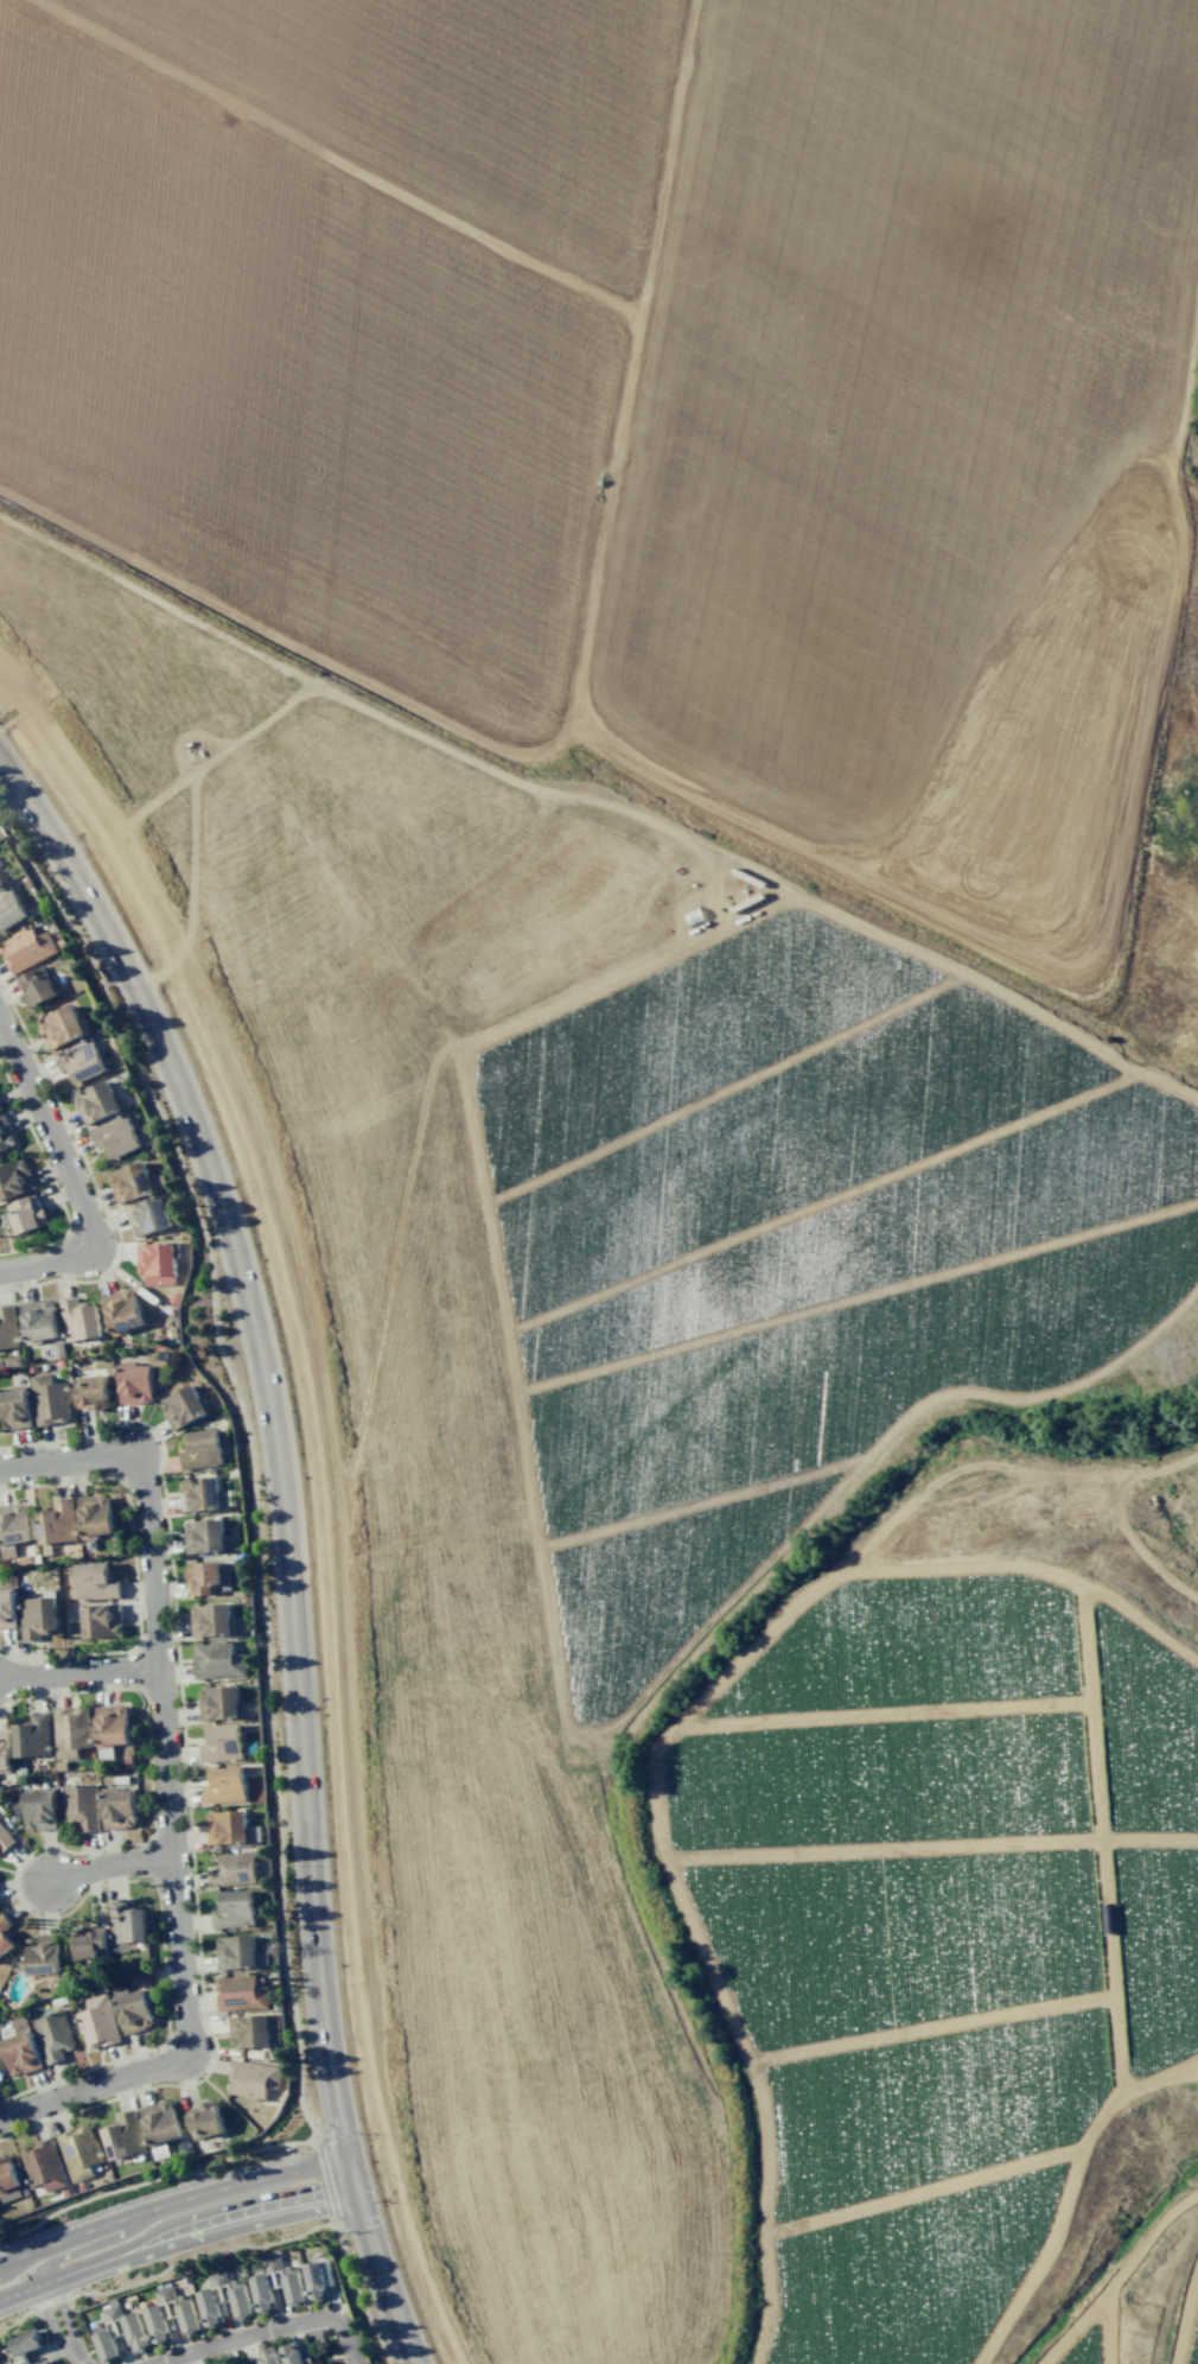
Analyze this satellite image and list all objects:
building: (1, 879)
building: (9, 908)
building: (59, 942)
building: (26, 948)
building: (36, 986)
building: (62, 1027)
building: (81, 1060)
crop: (719, 1097)
building: (96, 1101)
building: (0, 1107)
building: (5, 1133)
building: (115, 1135)
road: (69, 1174)
building: (14, 1178)
road: (51, 1180)
road: (90, 1180)
building: (130, 1182)
building: (26, 1214)
building: (148, 1215)
building: (157, 1262)
building: (174, 1298)
building: (121, 1311)
building: (78, 1320)
building: (38, 1321)
building: (7, 1327)
building: (172, 1333)
building: (58, 1349)
building: (12, 1361)
building: (134, 1383)
building: (91, 1392)
building: (49, 1399)
building: (183, 1406)
building: (14, 1409)
building: (202, 1448)
road: (77, 1456)
building: (198, 1494)
building: (94, 1517)
building: (57, 1521)
building: (12, 1529)
building: (204, 1536)
road: (286, 1539)
road: (133, 1565)
building: (208, 1576)
building: (95, 1581)
building: (6, 1607)
building: (37, 1616)
building: (100, 1619)
building: (211, 1619)
road: (263, 1620)
road: (4, 1651)
building: (218, 1660)
road: (79, 1671)
building: (218, 1702)
building: (111, 1729)
building: (72, 1733)
building: (33, 1735)
road: (146, 1735)
building: (222, 1742)
building: (5, 1752)
building: (21, 1772)
road: (185, 1780)
building: (225, 1784)
building: (81, 1806)
building: (117, 1806)
building: (38, 1809)
building: (225, 1826)
building: (5, 1838)
road: (173, 1862)
road: (109, 1863)
building: (234, 1869)
road: (15, 1896)
building: (234, 1908)
building: (127, 1921)
building: (5, 1934)
building: (89, 1940)
building: (236, 1951)
building: (43, 1955)
building: (241, 1993)
building: (132, 2008)
road: (165, 2014)
building: (97, 2021)
building: (249, 2031)
building: (52, 2034)
building: (20, 2048)
building: (253, 2078)
building: (205, 2120)
building: (160, 2127)
building: (123, 2135)
building: (81, 2153)
building: (44, 2166)
road: (326, 2180)
building: (8, 2181)
road: (246, 2184)
traffic signals: (324, 2194)
traffic signals: (362, 2219)
road: (95, 2229)
road: (173, 2235)
road: (91, 2245)
road: (237, 2248)
road: (23, 2255)
building: (318, 2279)
building: (279, 2284)
building: (224, 2299)
building: (170, 2314)
road: (267, 2328)
building: (119, 2332)
building: (20, 2346)
road: (72, 2352)
building: (294, 2353)
building: (268, 2356)
road: (78, 2358)
building: (45, 2362)
building: (218, 2363)

